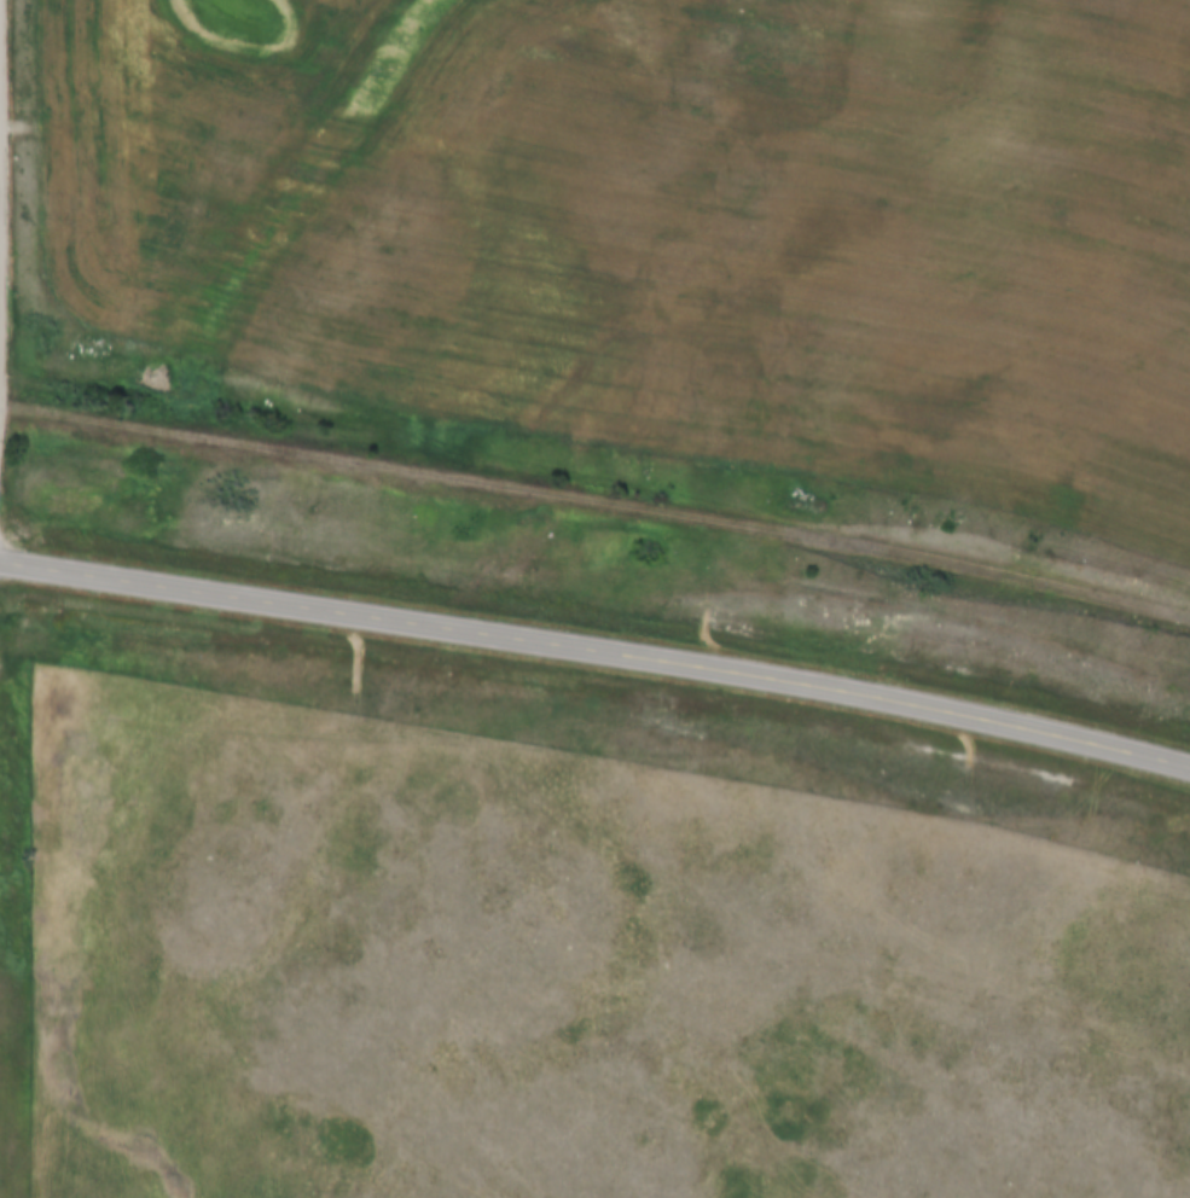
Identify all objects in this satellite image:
road: (1, 219)
road: (1, 400)
road: (597, 644)

